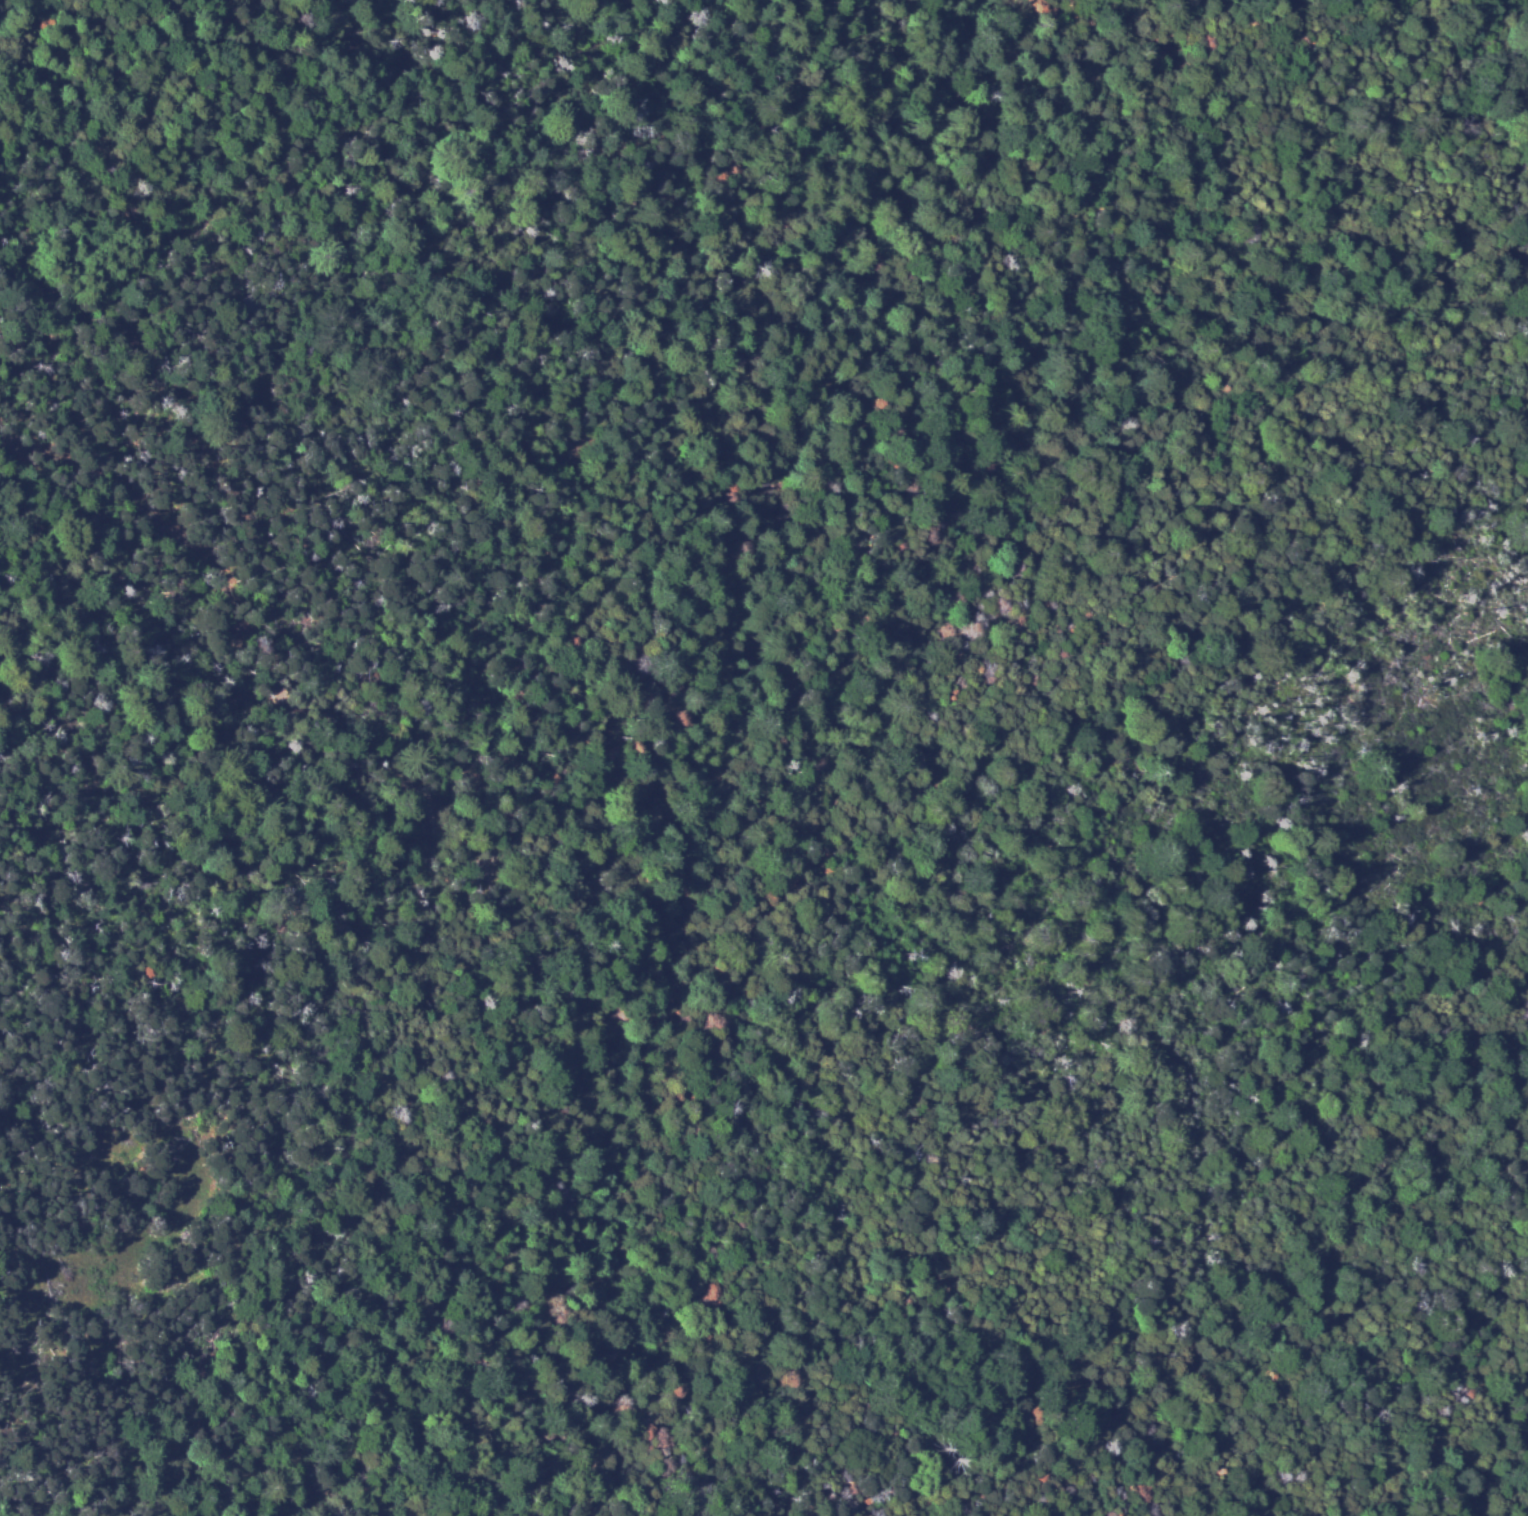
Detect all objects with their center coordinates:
building: (426, 828)
road: (1494, 1492)

